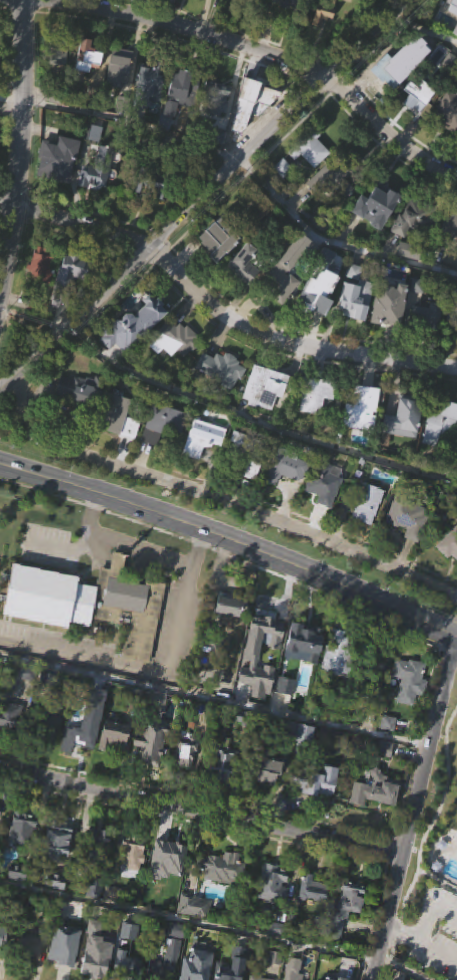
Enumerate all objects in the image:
building: (172, 1)
building: (291, 3)
building: (199, 5)
building: (321, 11)
building: (235, 12)
building: (284, 21)
building: (331, 27)
road: (422, 29)
building: (453, 32)
building: (2, 47)
building: (53, 49)
road: (262, 52)
building: (84, 55)
building: (455, 57)
building: (118, 67)
building: (392, 69)
building: (147, 75)
building: (180, 81)
building: (87, 82)
building: (417, 92)
building: (119, 95)
building: (212, 97)
building: (251, 97)
building: (444, 110)
building: (149, 112)
building: (221, 116)
building: (181, 118)
building: (417, 121)
road: (121, 123)
building: (447, 136)
road: (21, 143)
building: (303, 152)
building: (53, 160)
building: (88, 177)
building: (329, 178)
building: (148, 182)
building: (57, 185)
road: (203, 194)
building: (92, 202)
building: (378, 205)
building: (412, 218)
building: (448, 221)
building: (376, 232)
road: (334, 241)
building: (412, 248)
building: (449, 250)
building: (38, 262)
building: (239, 263)
building: (70, 266)
building: (217, 266)
building: (282, 267)
building: (403, 276)
building: (243, 292)
building: (289, 294)
building: (71, 296)
building: (354, 298)
building: (313, 301)
building: (451, 308)
road: (215, 311)
building: (386, 311)
building: (421, 315)
building: (317, 318)
building: (127, 321)
building: (356, 326)
building: (177, 336)
building: (425, 344)
building: (134, 350)
building: (173, 365)
building: (217, 367)
building: (260, 386)
building: (79, 391)
building: (311, 392)
building: (220, 394)
building: (358, 402)
building: (264, 413)
building: (78, 415)
building: (115, 415)
building: (399, 416)
building: (314, 421)
building: (437, 421)
building: (158, 422)
building: (361, 433)
building: (199, 437)
building: (118, 443)
building: (403, 444)
building: (246, 446)
building: (441, 449)
building: (162, 450)
building: (203, 462)
building: (283, 466)
building: (323, 483)
road: (43, 494)
building: (250, 495)
building: (284, 495)
road: (216, 500)
building: (367, 505)
road: (93, 509)
building: (325, 512)
building: (410, 516)
road: (146, 528)
building: (368, 532)
road: (232, 540)
road: (88, 543)
building: (448, 544)
road: (199, 546)
building: (409, 546)
road: (48, 549)
road: (141, 551)
road: (111, 561)
road: (95, 563)
road: (104, 568)
building: (449, 572)
road: (71, 573)
road: (163, 575)
building: (242, 575)
road: (326, 596)
building: (49, 599)
building: (233, 607)
building: (131, 609)
building: (77, 624)
building: (232, 634)
building: (303, 643)
road: (450, 651)
building: (339, 653)
building: (251, 654)
road: (123, 659)
road: (136, 666)
building: (305, 671)
building: (34, 678)
building: (339, 680)
building: (412, 681)
building: (374, 685)
building: (285, 686)
building: (254, 687)
building: (27, 701)
road: (215, 701)
building: (410, 708)
building: (286, 714)
building: (50, 716)
building: (9, 717)
building: (86, 721)
building: (288, 731)
building: (303, 734)
building: (113, 737)
building: (152, 740)
building: (10, 744)
building: (51, 749)
building: (184, 750)
building: (382, 750)
building: (87, 751)
building: (290, 757)
building: (221, 758)
building: (305, 761)
building: (115, 764)
building: (153, 768)
building: (265, 769)
building: (185, 777)
building: (315, 780)
building: (379, 791)
building: (224, 792)
building: (271, 797)
building: (325, 809)
building: (304, 812)
building: (1, 813)
road: (413, 813)
road: (201, 814)
building: (377, 818)
road: (434, 820)
building: (25, 829)
building: (0, 835)
building: (57, 838)
building: (100, 847)
building: (132, 854)
building: (24, 856)
building: (455, 862)
building: (164, 863)
building: (59, 866)
building: (103, 867)
building: (226, 871)
road: (437, 880)
building: (133, 881)
building: (271, 885)
building: (168, 887)
building: (96, 888)
building: (316, 891)
building: (222, 896)
building: (157, 903)
road: (439, 904)
building: (196, 907)
building: (350, 907)
building: (57, 909)
building: (274, 911)
building: (96, 913)
road: (430, 914)
building: (313, 917)
building: (111, 921)
road: (211, 927)
building: (195, 933)
building: (347, 933)
road: (397, 933)
road: (435, 935)
building: (5, 939)
road: (422, 945)
building: (67, 947)
building: (31, 948)
road: (392, 955)
road: (440, 955)
building: (178, 958)
building: (130, 959)
building: (235, 964)
building: (66, 967)
building: (99, 968)
building: (3, 969)
building: (127, 970)
building: (292, 970)
building: (331, 970)
building: (156, 971)
building: (30, 972)
building: (175, 973)
building: (203, 975)
building: (186, 976)
building: (256, 979)

